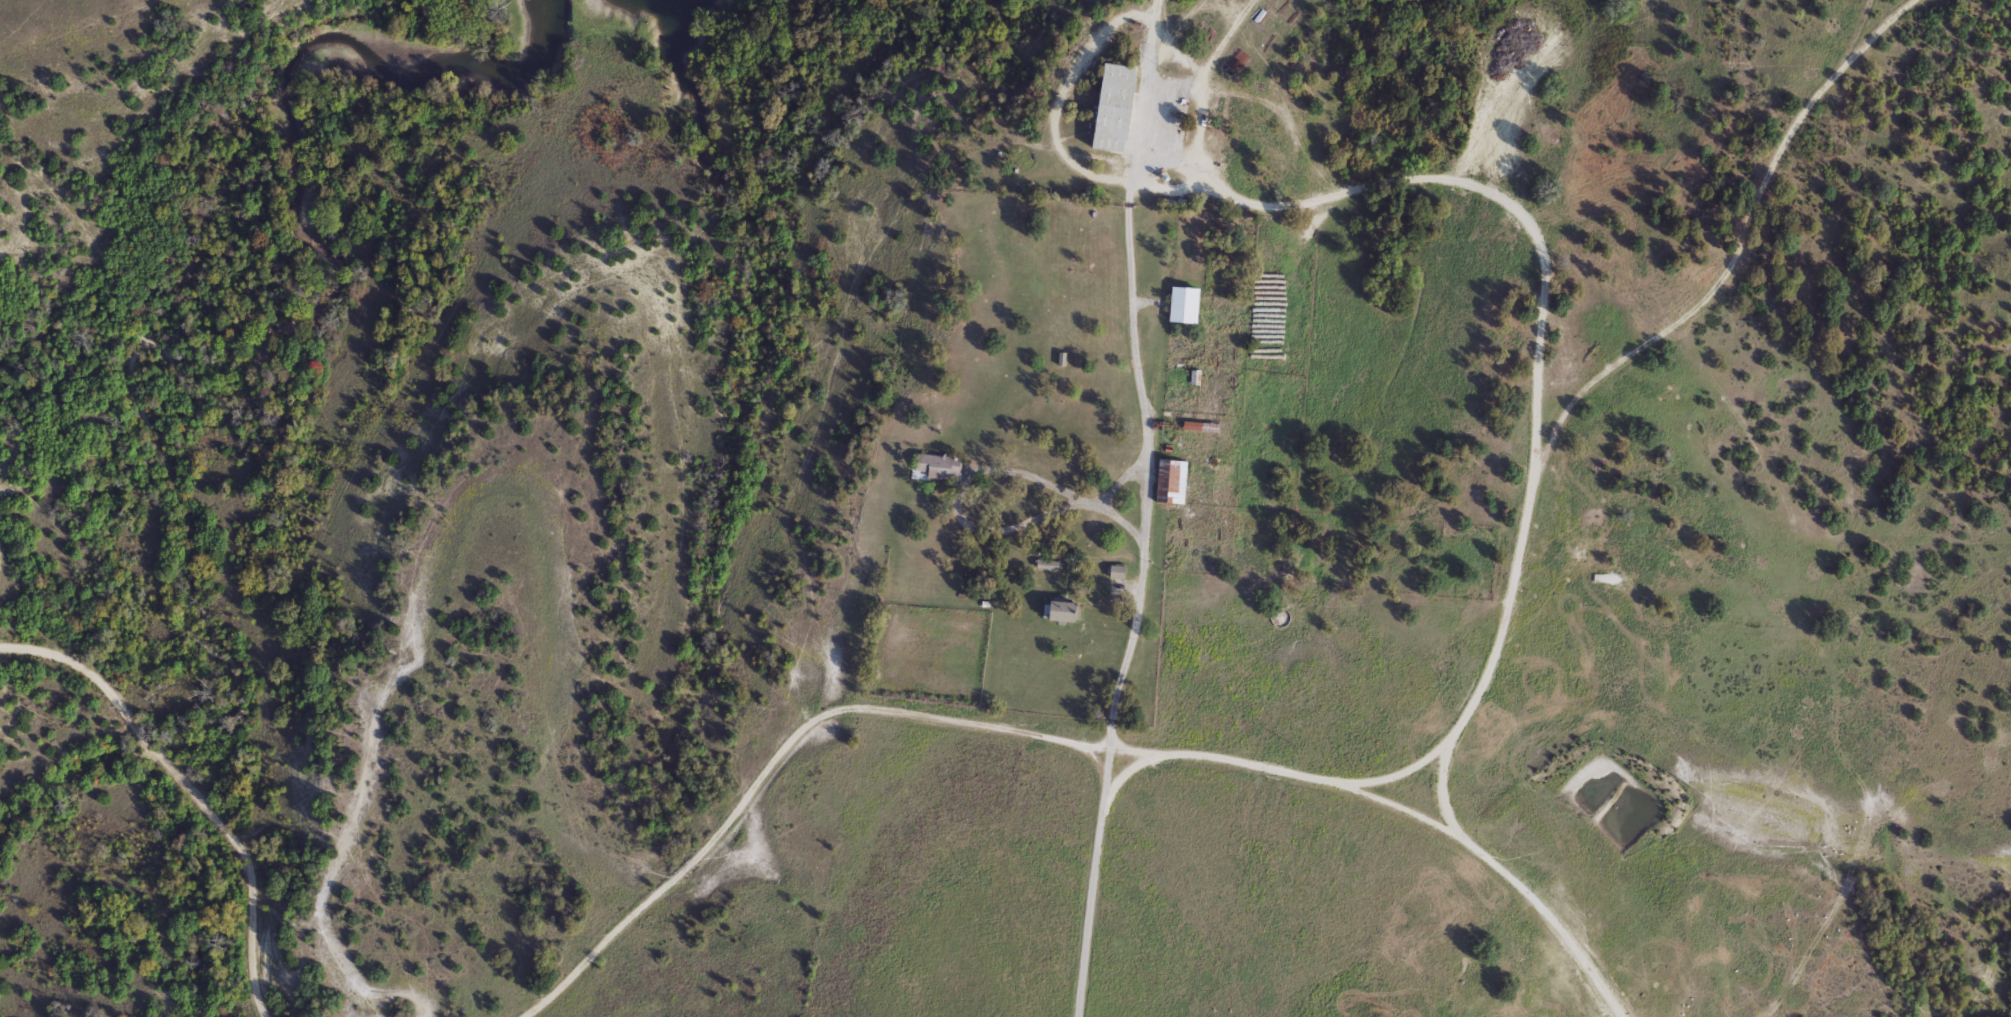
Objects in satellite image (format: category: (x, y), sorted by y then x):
road: (1229, 9)
road: (1244, 9)
road: (1183, 10)
road: (1206, 62)
building: (1112, 109)
road: (1203, 123)
road: (1319, 195)
building: (1182, 306)
road: (1136, 372)
road: (1606, 381)
building: (936, 467)
building: (1170, 483)
road: (960, 499)
building: (1116, 574)
building: (1060, 613)
building: (1281, 618)
road: (769, 762)
road: (1396, 771)
building: (1610, 784)
road: (190, 794)
road: (1406, 806)
road: (1091, 880)

